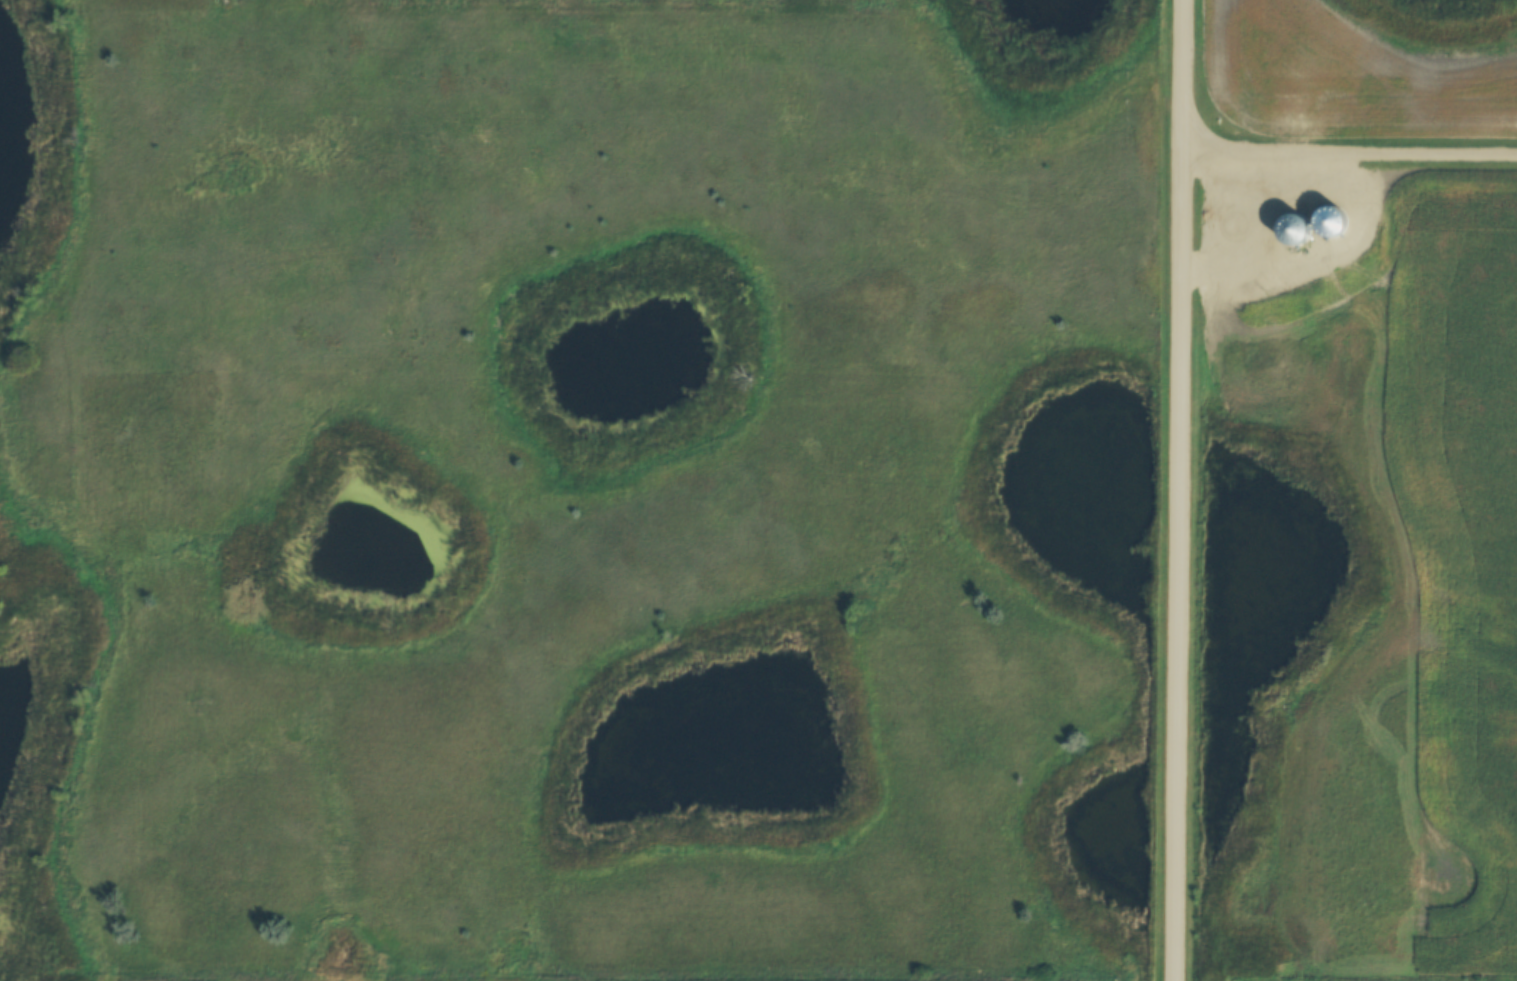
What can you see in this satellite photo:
road: (1354, 150)
road: (1189, 490)

